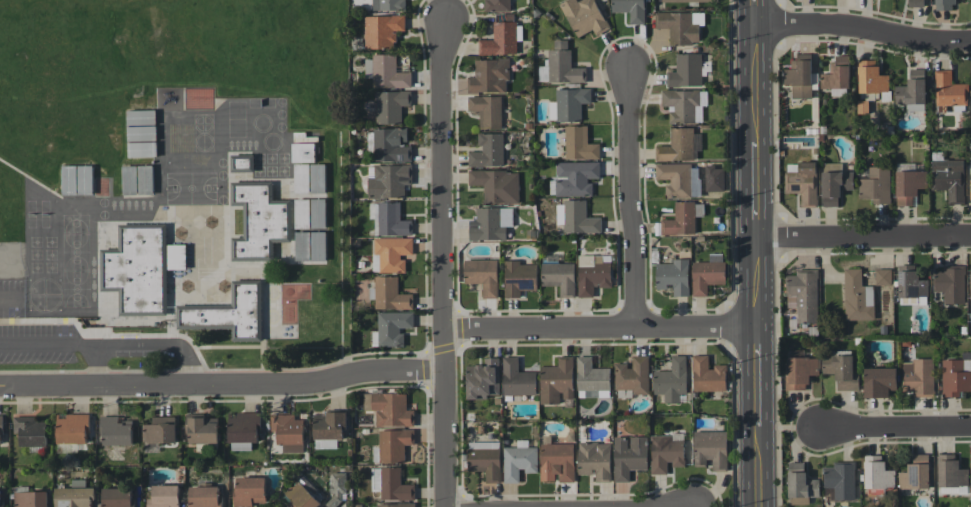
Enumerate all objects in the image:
building: (688, 0)
building: (915, 3)
building: (388, 5)
building: (497, 5)
building: (944, 5)
building: (630, 9)
building: (584, 16)
building: (680, 26)
road: (865, 29)
building: (382, 31)
building: (500, 40)
building: (561, 65)
building: (686, 71)
building: (385, 72)
building: (837, 75)
building: (489, 76)
building: (799, 76)
building: (871, 77)
building: (949, 90)
building: (912, 91)
building: (568, 104)
building: (391, 105)
building: (682, 105)
building: (487, 110)
building: (579, 143)
building: (391, 144)
building: (677, 145)
building: (488, 150)
building: (303, 152)
building: (575, 177)
building: (301, 178)
building: (317, 178)
building: (77, 179)
building: (130, 179)
building: (145, 179)
building: (679, 179)
building: (949, 179)
building: (388, 180)
building: (802, 181)
building: (835, 182)
building: (970, 183)
building: (497, 185)
building: (876, 185)
building: (909, 185)
road: (631, 198)
road: (443, 199)
building: (317, 213)
building: (576, 217)
building: (682, 218)
building: (391, 220)
building: (259, 222)
building: (490, 223)
road: (864, 236)
building: (310, 246)
road: (757, 253)
building: (391, 254)
building: (138, 270)
building: (593, 273)
building: (482, 275)
building: (558, 275)
building: (673, 276)
building: (707, 276)
building: (883, 276)
building: (519, 278)
building: (970, 279)
building: (950, 283)
building: (910, 285)
building: (390, 294)
building: (803, 294)
building: (857, 296)
building: (230, 314)
building: (392, 327)
road: (599, 327)
road: (160, 342)
road: (49, 343)
road: (99, 365)
building: (841, 371)
building: (800, 372)
building: (633, 375)
building: (708, 375)
building: (918, 376)
building: (955, 376)
building: (517, 378)
building: (592, 378)
building: (483, 379)
building: (671, 380)
building: (557, 381)
building: (879, 381)
road: (223, 385)
building: (389, 409)
building: (330, 425)
building: (72, 428)
building: (0, 429)
road: (894, 429)
building: (30, 430)
building: (243, 430)
building: (202, 431)
building: (117, 432)
building: (288, 432)
road: (445, 438)
building: (392, 445)
building: (710, 448)
building: (665, 453)
building: (628, 456)
building: (485, 459)
building: (519, 460)
building: (594, 460)
building: (556, 461)
building: (877, 473)
building: (915, 473)
building: (951, 475)
building: (839, 481)
building: (800, 482)
building: (78, 483)
building: (391, 484)
building: (249, 491)
building: (164, 496)
building: (204, 496)
building: (300, 496)
building: (0, 497)
building: (73, 497)
building: (118, 497)
building: (31, 499)
building: (395, 505)

